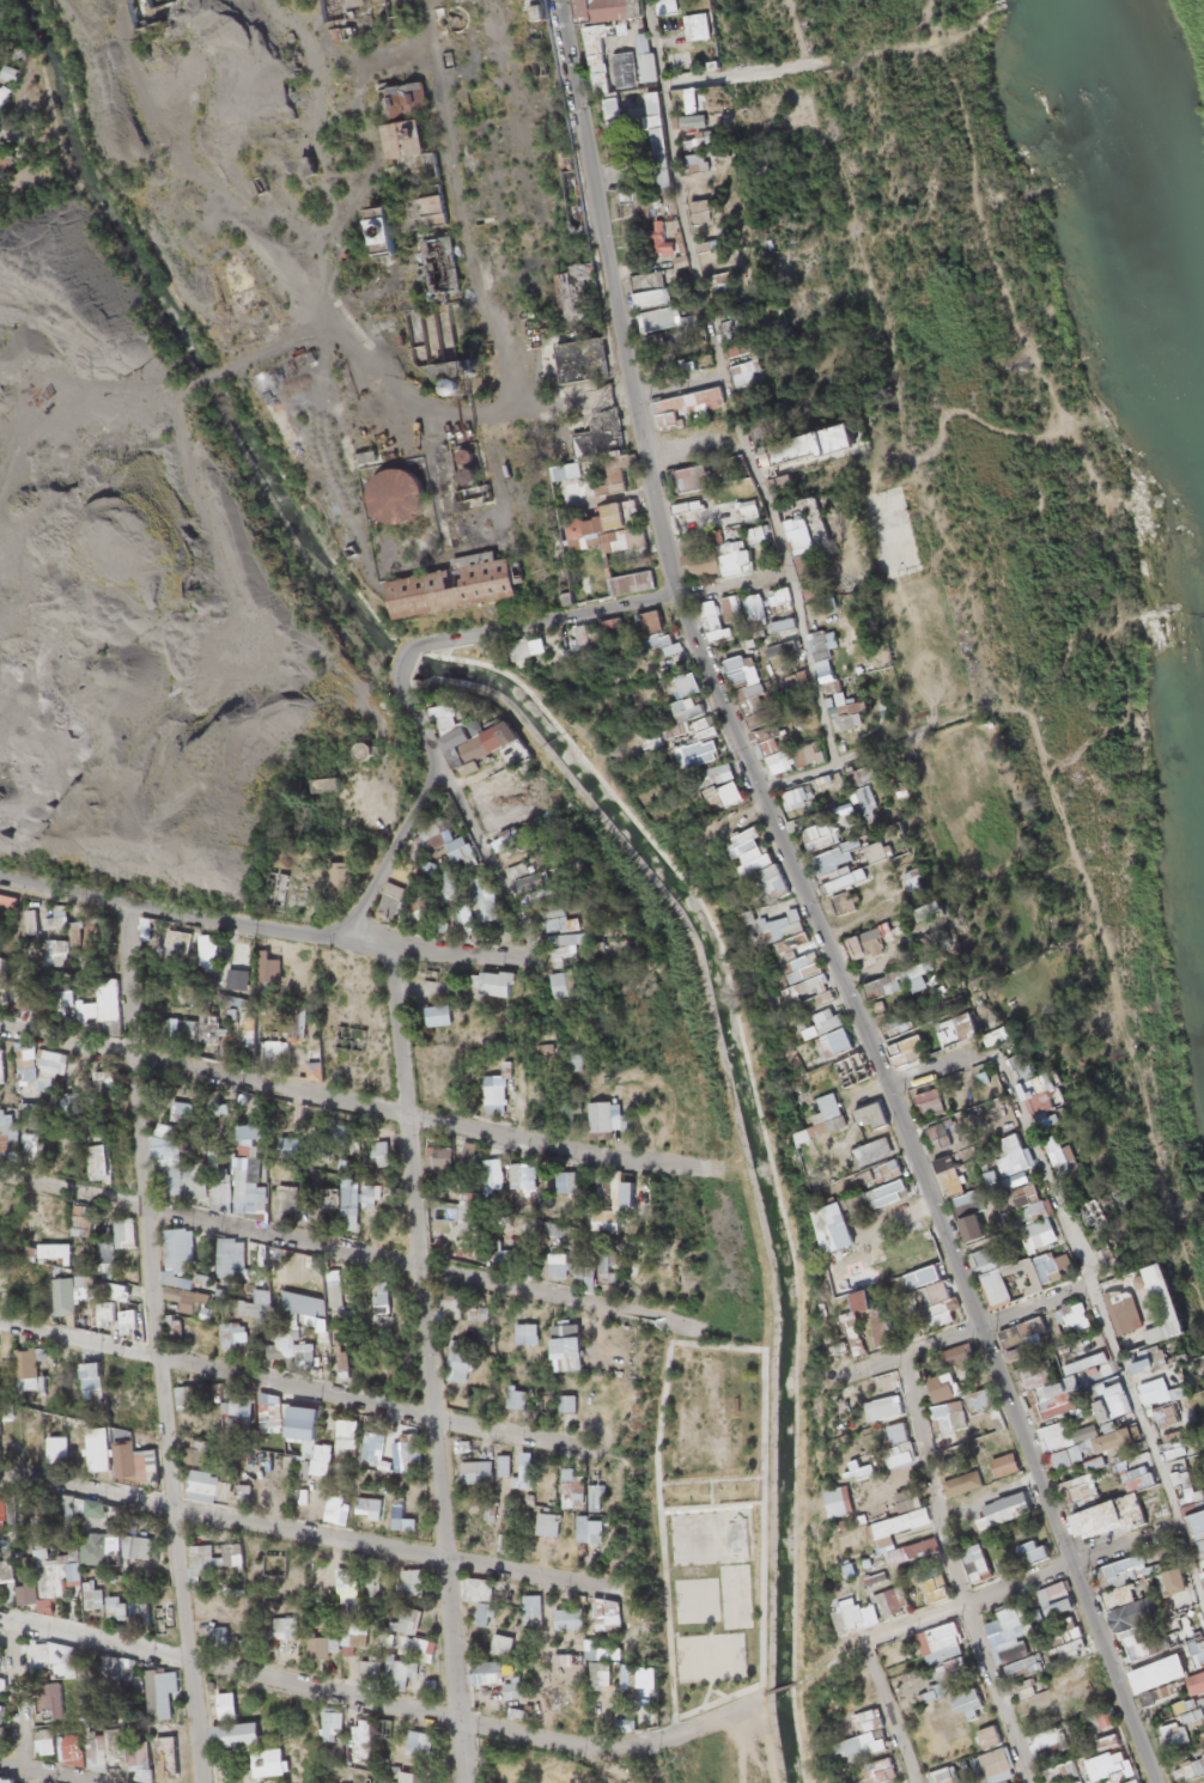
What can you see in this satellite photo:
road: (741, 72)
road: (619, 89)
building: (401, 132)
river: (1157, 223)
road: (469, 257)
road: (679, 383)
road: (728, 384)
building: (689, 474)
road: (598, 608)
building: (821, 640)
road: (402, 658)
building: (778, 750)
road: (845, 757)
road: (413, 805)
road: (482, 853)
road: (811, 903)
road: (259, 924)
road: (62, 1040)
road: (937, 1071)
road: (383, 1107)
road: (345, 1249)
road: (1103, 1321)
road: (966, 1332)
road: (77, 1337)
road: (153, 1341)
road: (425, 1363)
road: (370, 1404)
building: (1095, 1514)
road: (300, 1531)
building: (978, 1564)
road: (955, 1571)
road: (1018, 1584)
building: (1010, 1613)
building: (1011, 1639)
building: (510, 1680)
road: (373, 1699)
road: (890, 1715)
building: (1174, 1727)
building: (1042, 1736)
building: (339, 1744)
road: (45, 1773)

